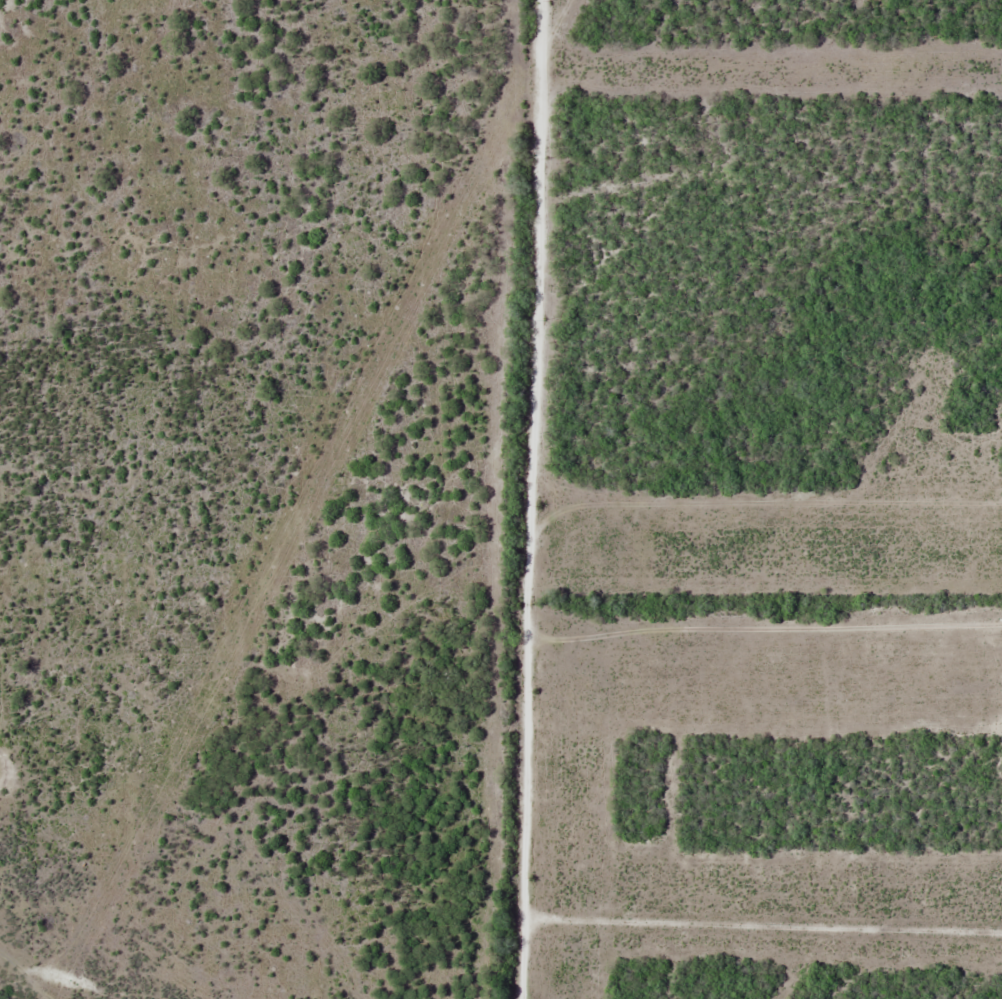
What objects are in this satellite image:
road: (528, 499)

